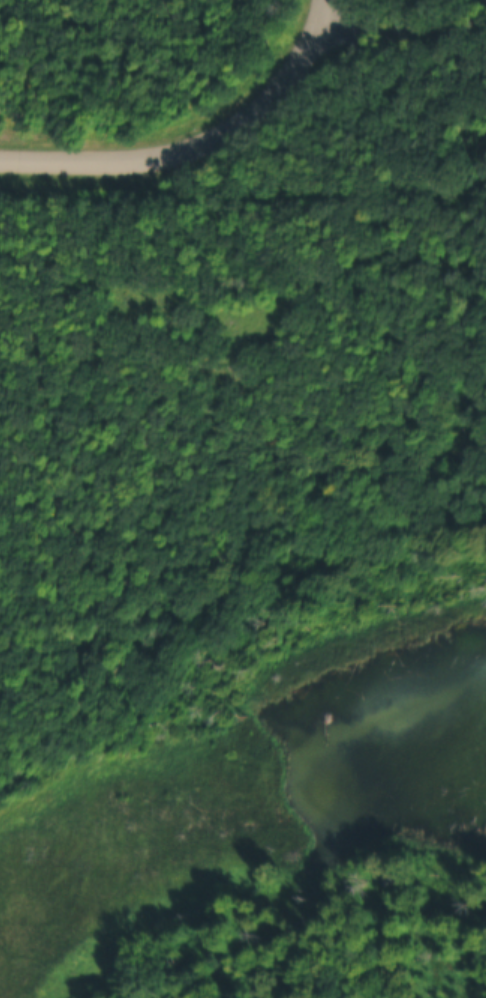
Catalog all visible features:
road: (396, 23)
road: (201, 147)

